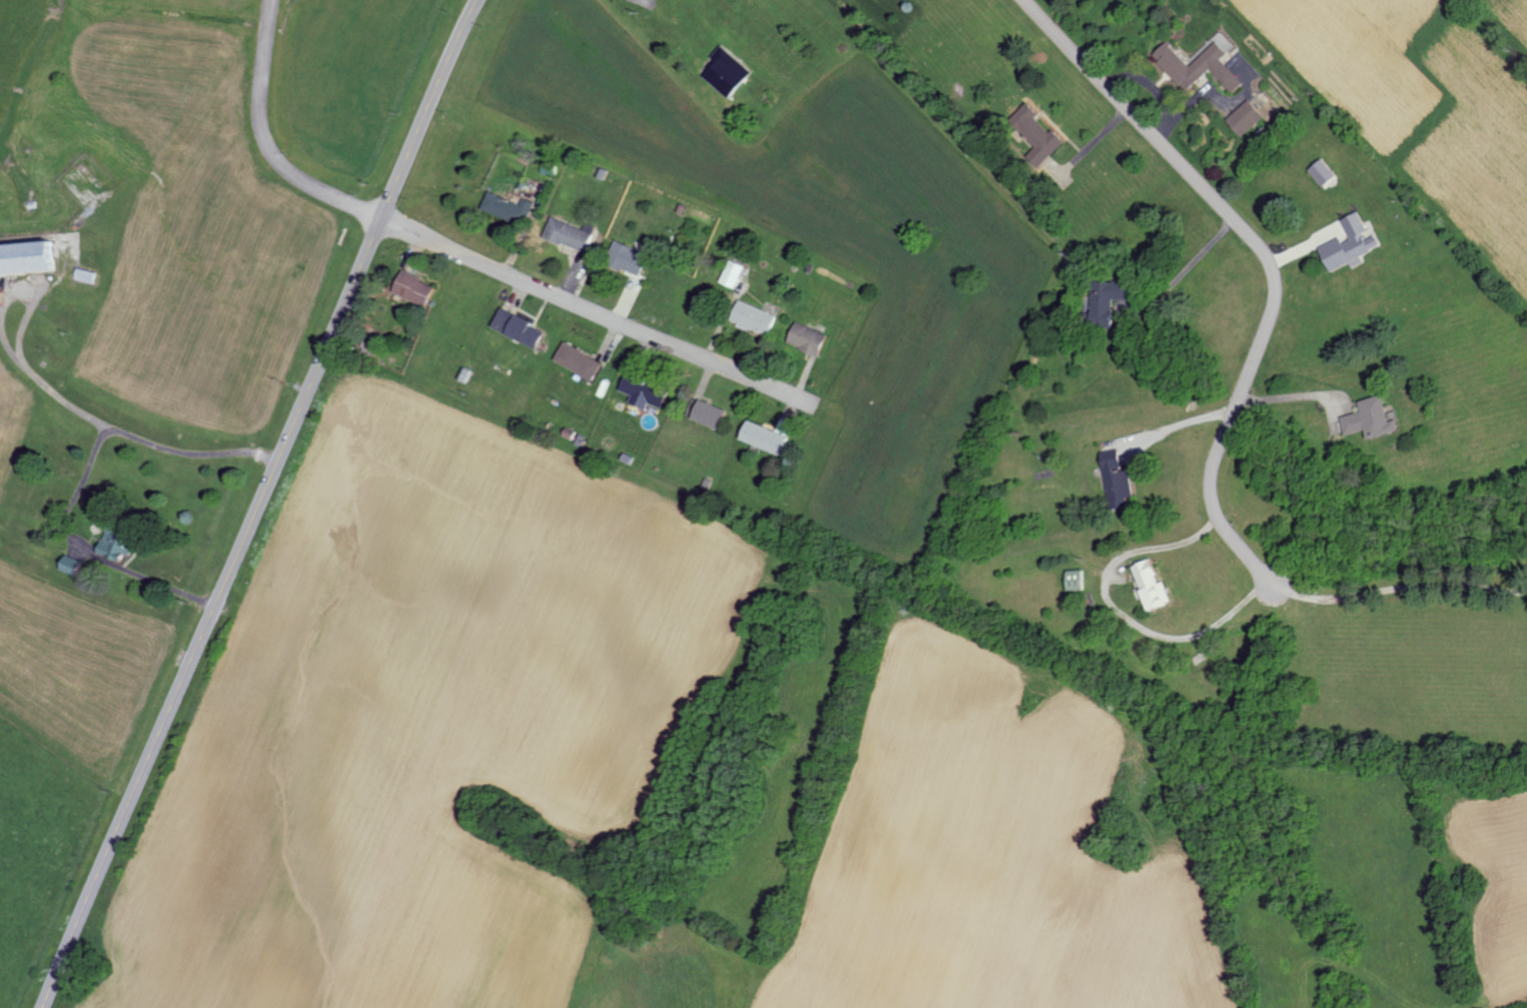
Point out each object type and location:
building: (1200, 64)
building: (723, 72)
building: (1245, 118)
building: (1035, 135)
road: (264, 142)
building: (1322, 172)
building: (507, 208)
building: (566, 235)
building: (1320, 239)
building: (1349, 244)
building: (27, 259)
building: (626, 259)
road: (1187, 263)
road: (1265, 267)
building: (730, 274)
building: (412, 288)
building: (1104, 303)
road: (597, 317)
building: (751, 318)
building: (517, 329)
building: (806, 339)
building: (578, 362)
road: (1288, 393)
building: (642, 394)
road: (64, 399)
building: (707, 414)
building: (1369, 419)
road: (1178, 423)
building: (1114, 479)
road: (259, 503)
building: (118, 544)
building: (73, 564)
building: (1152, 584)
road: (1402, 588)
road: (1119, 611)

